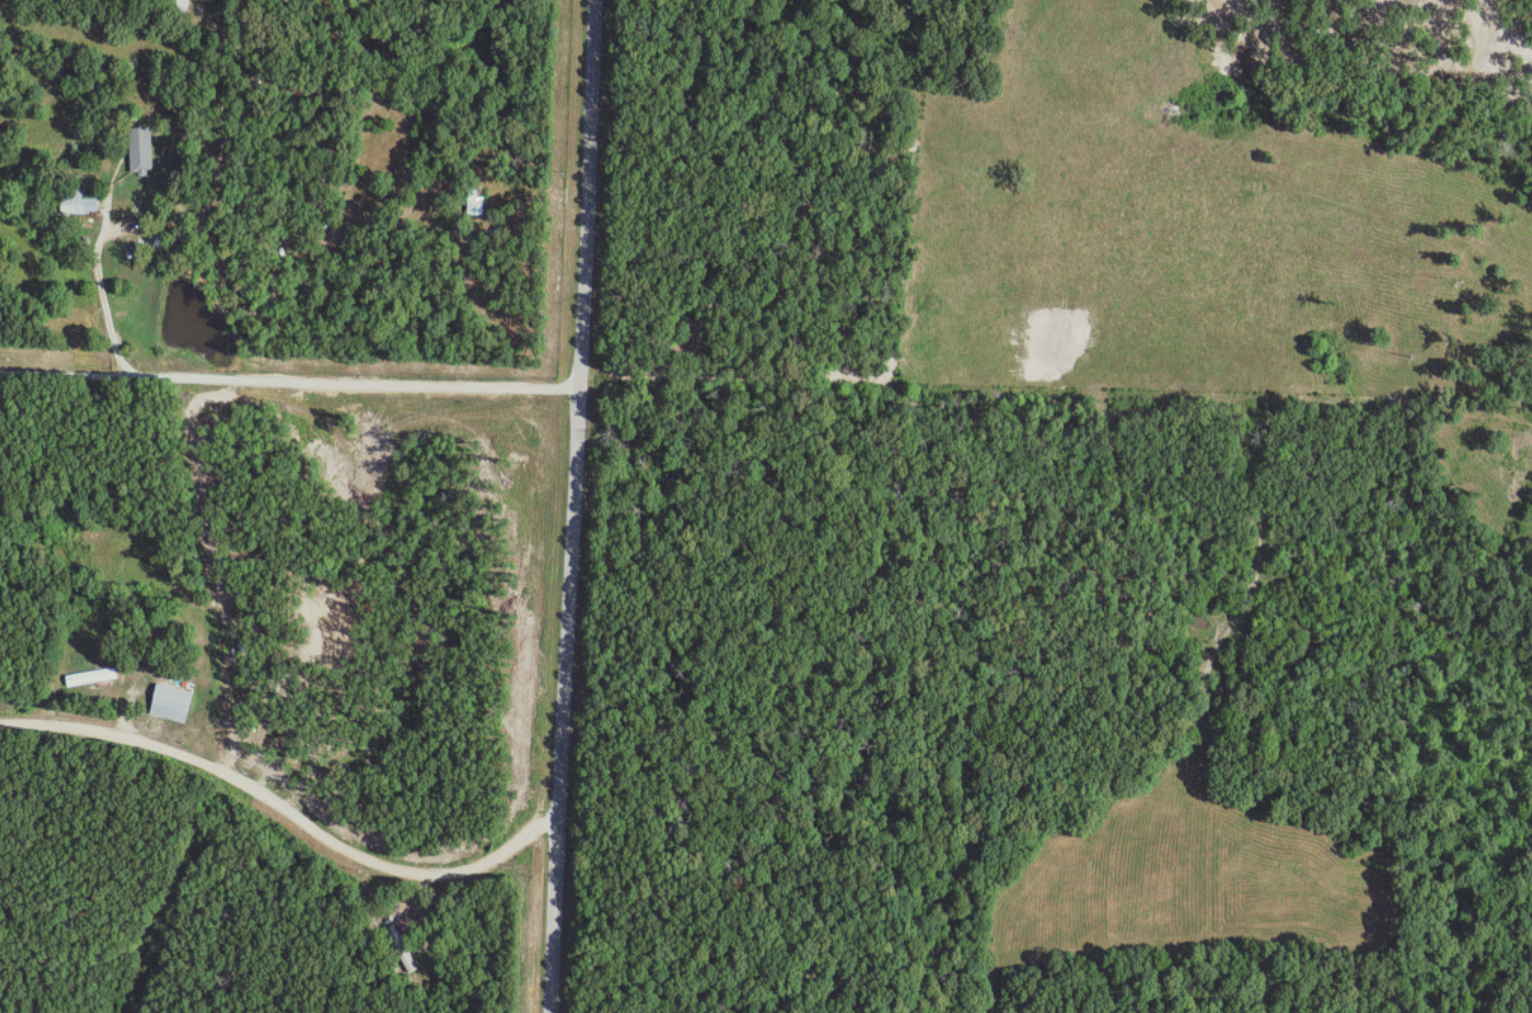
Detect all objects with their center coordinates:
building: (144, 158)
building: (86, 205)
road: (72, 372)
road: (253, 378)
road: (583, 506)
building: (98, 676)
building: (179, 703)
road: (292, 810)

